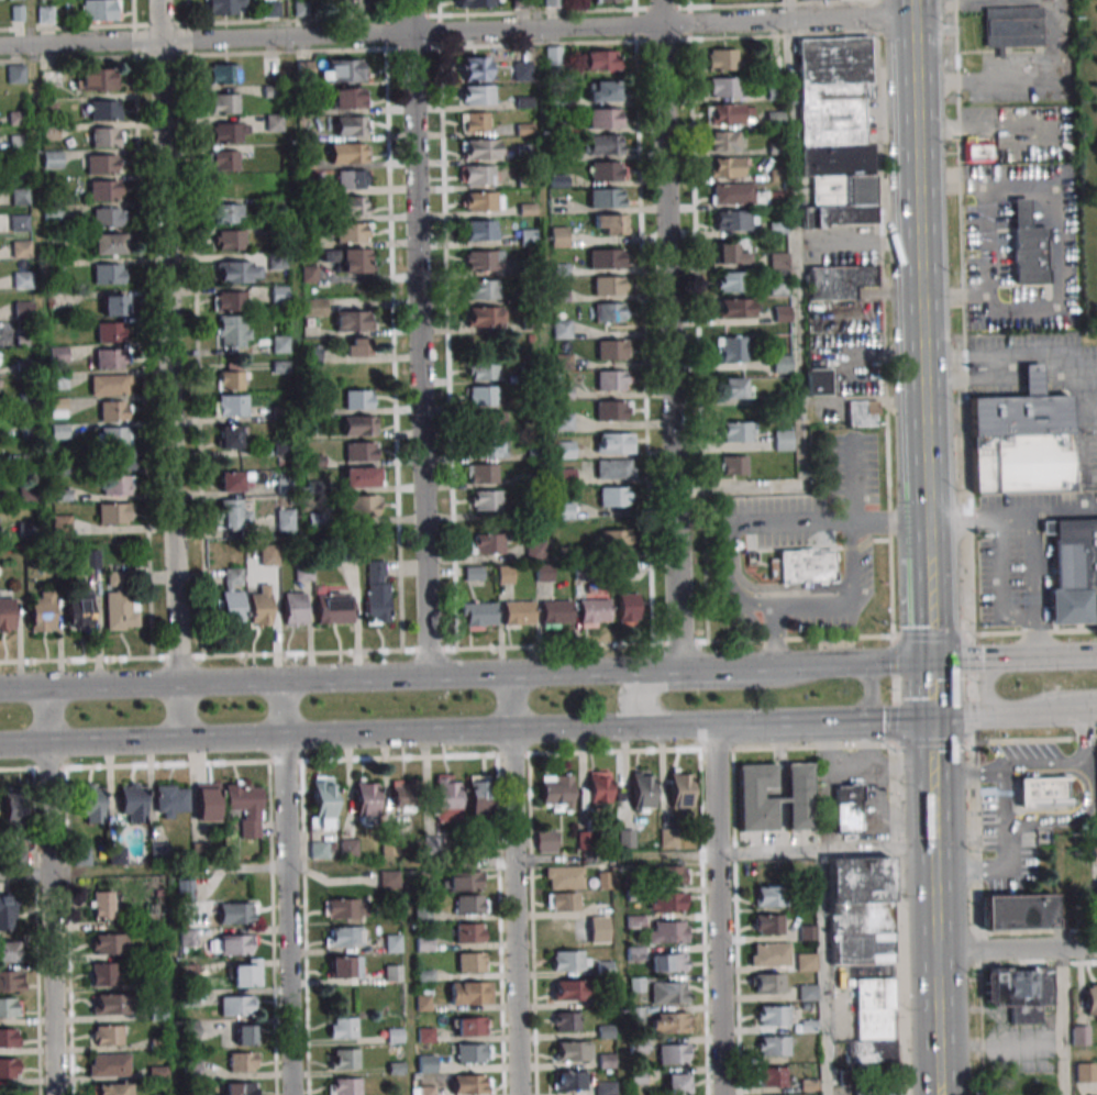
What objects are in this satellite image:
building: (804, 0)
building: (605, 1)
building: (477, 3)
building: (551, 3)
building: (355, 5)
building: (226, 7)
building: (300, 9)
building: (99, 10)
building: (45, 14)
building: (1011, 27)
road: (454, 31)
building: (552, 55)
building: (600, 59)
building: (723, 59)
building: (475, 68)
building: (346, 70)
building: (522, 70)
building: (15, 74)
building: (223, 74)
building: (97, 79)
building: (723, 86)
building: (603, 90)
building: (476, 95)
building: (348, 98)
building: (223, 102)
building: (103, 109)
building: (729, 113)
building: (605, 118)
building: (774, 119)
building: (474, 122)
building: (274, 123)
building: (352, 125)
building: (835, 131)
building: (228, 132)
building: (106, 136)
building: (724, 141)
building: (603, 144)
building: (480, 148)
building: (524, 150)
building: (977, 150)
building: (347, 153)
building: (52, 159)
building: (224, 161)
building: (101, 164)
building: (727, 167)
building: (606, 170)
building: (477, 175)
building: (352, 179)
building: (103, 190)
building: (731, 193)
building: (19, 196)
building: (606, 197)
building: (769, 198)
building: (479, 201)
building: (352, 206)
building: (228, 213)
building: (108, 217)
building: (733, 220)
building: (19, 222)
building: (610, 224)
building: (480, 230)
building: (353, 232)
building: (558, 236)
building: (229, 240)
building: (107, 243)
building: (1028, 246)
building: (21, 248)
building: (731, 254)
building: (607, 258)
building: (277, 259)
building: (347, 259)
building: (777, 259)
building: (484, 261)
building: (237, 270)
road: (917, 272)
building: (108, 274)
building: (309, 274)
building: (22, 280)
building: (732, 281)
building: (838, 281)
building: (610, 286)
building: (778, 286)
building: (481, 289)
building: (279, 295)
building: (231, 301)
road: (796, 303)
building: (115, 305)
building: (314, 308)
building: (734, 308)
building: (22, 310)
building: (610, 312)
building: (782, 313)
building: (485, 317)
road: (963, 317)
building: (353, 320)
building: (562, 329)
building: (232, 331)
building: (109, 332)
road: (669, 335)
road: (417, 339)
building: (280, 344)
building: (357, 347)
building: (731, 349)
building: (612, 350)
building: (109, 357)
building: (563, 361)
building: (782, 364)
road: (169, 369)
building: (483, 370)
road: (997, 372)
building: (230, 379)
building: (611, 379)
building: (1032, 380)
building: (818, 381)
parking lot: (1045, 384)
building: (109, 385)
building: (734, 387)
building: (483, 395)
building: (358, 399)
building: (230, 405)
building: (113, 410)
building: (612, 410)
road: (1086, 411)
building: (863, 413)
building: (486, 421)
building: (564, 422)
road: (1076, 422)
building: (359, 425)
building: (738, 431)
building: (114, 436)
building: (231, 436)
building: (783, 440)
building: (614, 443)
building: (1019, 444)
building: (488, 447)
building: (565, 450)
building: (362, 451)
building: (118, 460)
building: (734, 465)
building: (614, 468)
building: (481, 474)
building: (361, 476)
building: (232, 480)
road: (852, 482)
building: (117, 485)
building: (613, 496)
building: (486, 500)
building: (364, 505)
building: (113, 513)
road: (1009, 513)
building: (231, 515)
road: (786, 523)
building: (60, 526)
building: (26, 528)
building: (1046, 528)
building: (614, 539)
building: (487, 543)
road: (1046, 546)
building: (536, 551)
building: (269, 554)
parking lot: (1021, 554)
building: (89, 558)
building: (805, 567)
building: (543, 572)
building: (1074, 572)
road: (1000, 585)
road: (1033, 585)
road: (926, 590)
building: (377, 591)
building: (232, 596)
building: (119, 600)
road: (835, 602)
building: (261, 607)
building: (334, 608)
building: (293, 609)
building: (628, 609)
building: (79, 610)
building: (41, 612)
building: (518, 612)
building: (595, 612)
building: (556, 613)
building: (5, 615)
building: (477, 616)
road: (1034, 630)
road: (910, 638)
road: (951, 638)
road: (928, 650)
road: (1012, 659)
traffic signals: (929, 661)
road: (805, 665)
road: (340, 678)
road: (984, 687)
road: (640, 688)
road: (929, 689)
road: (871, 697)
road: (510, 703)
road: (281, 709)
road: (1013, 712)
road: (45, 716)
traffic signals: (930, 719)
road: (787, 726)
road: (1079, 733)
road: (321, 735)
road: (1043, 765)
road: (968, 770)
road: (932, 776)
building: (599, 787)
building: (643, 790)
building: (680, 790)
building: (1043, 792)
building: (556, 793)
building: (477, 794)
building: (402, 795)
building: (773, 797)
building: (447, 798)
building: (131, 799)
building: (170, 800)
building: (366, 800)
building: (207, 801)
building: (90, 803)
building: (322, 803)
building: (14, 807)
building: (244, 807)
building: (847, 809)
road: (1077, 819)
building: (668, 837)
building: (625, 838)
building: (546, 841)
building: (348, 848)
building: (318, 850)
road: (701, 854)
building: (1096, 854)
building: (117, 855)
road: (1010, 855)
building: (80, 856)
building: (15, 859)
road: (142, 869)
building: (673, 875)
building: (564, 877)
building: (388, 878)
building: (464, 881)
building: (185, 891)
building: (768, 896)
building: (563, 902)
building: (667, 902)
building: (469, 904)
building: (101, 905)
building: (343, 908)
building: (860, 910)
building: (7, 911)
road: (718, 911)
building: (1018, 911)
building: (235, 912)
road: (514, 912)
road: (287, 916)
road: (51, 919)
building: (768, 925)
building: (668, 931)
building: (469, 932)
building: (343, 936)
building: (392, 942)
building: (108, 943)
building: (231, 944)
road: (1017, 950)
building: (8, 952)
building: (634, 953)
building: (771, 954)
road: (937, 958)
building: (570, 960)
building: (470, 962)
building: (668, 962)
building: (806, 962)
building: (344, 966)
building: (187, 973)
building: (245, 973)
building: (392, 973)
road: (822, 973)
building: (103, 974)
building: (10, 981)
building: (769, 983)
building: (569, 991)
building: (1019, 991)
building: (470, 992)
building: (668, 992)
building: (110, 1004)
building: (237, 1006)
building: (9, 1007)
building: (773, 1015)
building: (567, 1021)
building: (669, 1021)
road: (1064, 1021)
building: (873, 1022)
building: (469, 1026)
building: (343, 1028)
building: (189, 1030)
building: (108, 1035)
building: (245, 1035)
building: (1081, 1035)
building: (8, 1038)
building: (773, 1046)
building: (573, 1050)
road: (1081, 1052)
building: (473, 1053)
building: (674, 1053)
building: (344, 1059)
building: (242, 1062)
building: (108, 1064)
building: (8, 1068)
building: (772, 1076)
building: (570, 1081)
building: (678, 1083)
building: (472, 1084)
building: (344, 1086)
building: (112, 1088)
building: (236, 1088)
building: (606, 1088)
road: (940, 1088)
building: (425, 1090)
building: (875, 1090)

